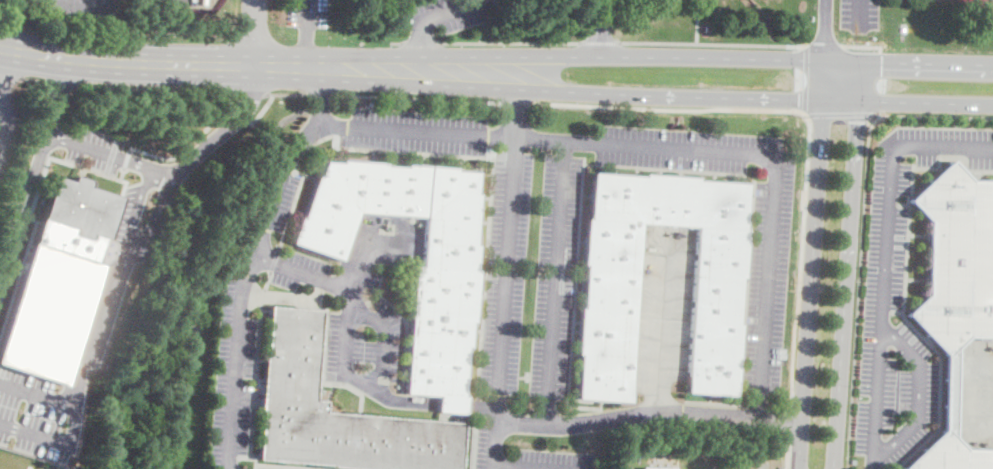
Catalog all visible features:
parking lot: (190, 2)
parking lot: (78, 6)
road: (447, 10)
parking lot: (306, 12)
parking lot: (446, 13)
parking lot: (859, 13)
road: (304, 14)
road: (859, 15)
road: (697, 21)
road: (9, 24)
road: (601, 27)
road: (825, 30)
road: (252, 32)
road: (419, 40)
road: (598, 40)
road: (510, 41)
road: (396, 42)
road: (421, 42)
road: (704, 42)
traffic signals: (826, 43)
road: (799, 44)
road: (825, 44)
road: (861, 46)
road: (304, 54)
road: (622, 56)
traffic signals: (881, 61)
road: (125, 62)
road: (3, 65)
road: (9, 76)
road: (805, 78)
road: (876, 79)
road: (34, 80)
road: (843, 80)
road: (59, 83)
road: (824, 89)
road: (151, 90)
road: (554, 90)
road: (248, 95)
road: (60, 96)
road: (286, 96)
road: (320, 96)
road: (320, 99)
road: (417, 99)
traffic signals: (799, 100)
road: (925, 102)
road: (517, 105)
road: (669, 106)
road: (859, 110)
road: (516, 112)
road: (840, 112)
road: (261, 113)
road: (934, 113)
road: (0, 114)
road: (241, 115)
traffic signals: (858, 120)
parking lot: (413, 130)
parking lot: (5, 135)
parking lot: (937, 144)
road: (186, 147)
parking lot: (92, 148)
parking lot: (690, 148)
road: (112, 154)
road: (775, 156)
road: (273, 190)
road: (852, 197)
parking lot: (280, 202)
road: (23, 206)
building: (79, 208)
road: (135, 210)
parking lot: (128, 212)
road: (369, 250)
road: (883, 255)
road: (799, 257)
road: (859, 257)
parking lot: (884, 260)
road: (118, 271)
parking lot: (529, 273)
road: (505, 278)
road: (555, 282)
parking lot: (765, 287)
building: (955, 292)
building: (608, 293)
road: (810, 293)
building: (444, 296)
parking lot: (360, 300)
building: (51, 303)
parking lot: (662, 311)
road: (661, 328)
road: (347, 346)
road: (840, 372)
parking lot: (234, 374)
parking lot: (974, 390)
road: (917, 392)
road: (36, 393)
road: (964, 394)
building: (336, 413)
road: (648, 414)
parking lot: (37, 416)
road: (788, 419)
road: (848, 437)
parking lot: (896, 442)
road: (494, 445)
road: (785, 452)
parking lot: (551, 459)
road: (540, 464)
building: (651, 468)

